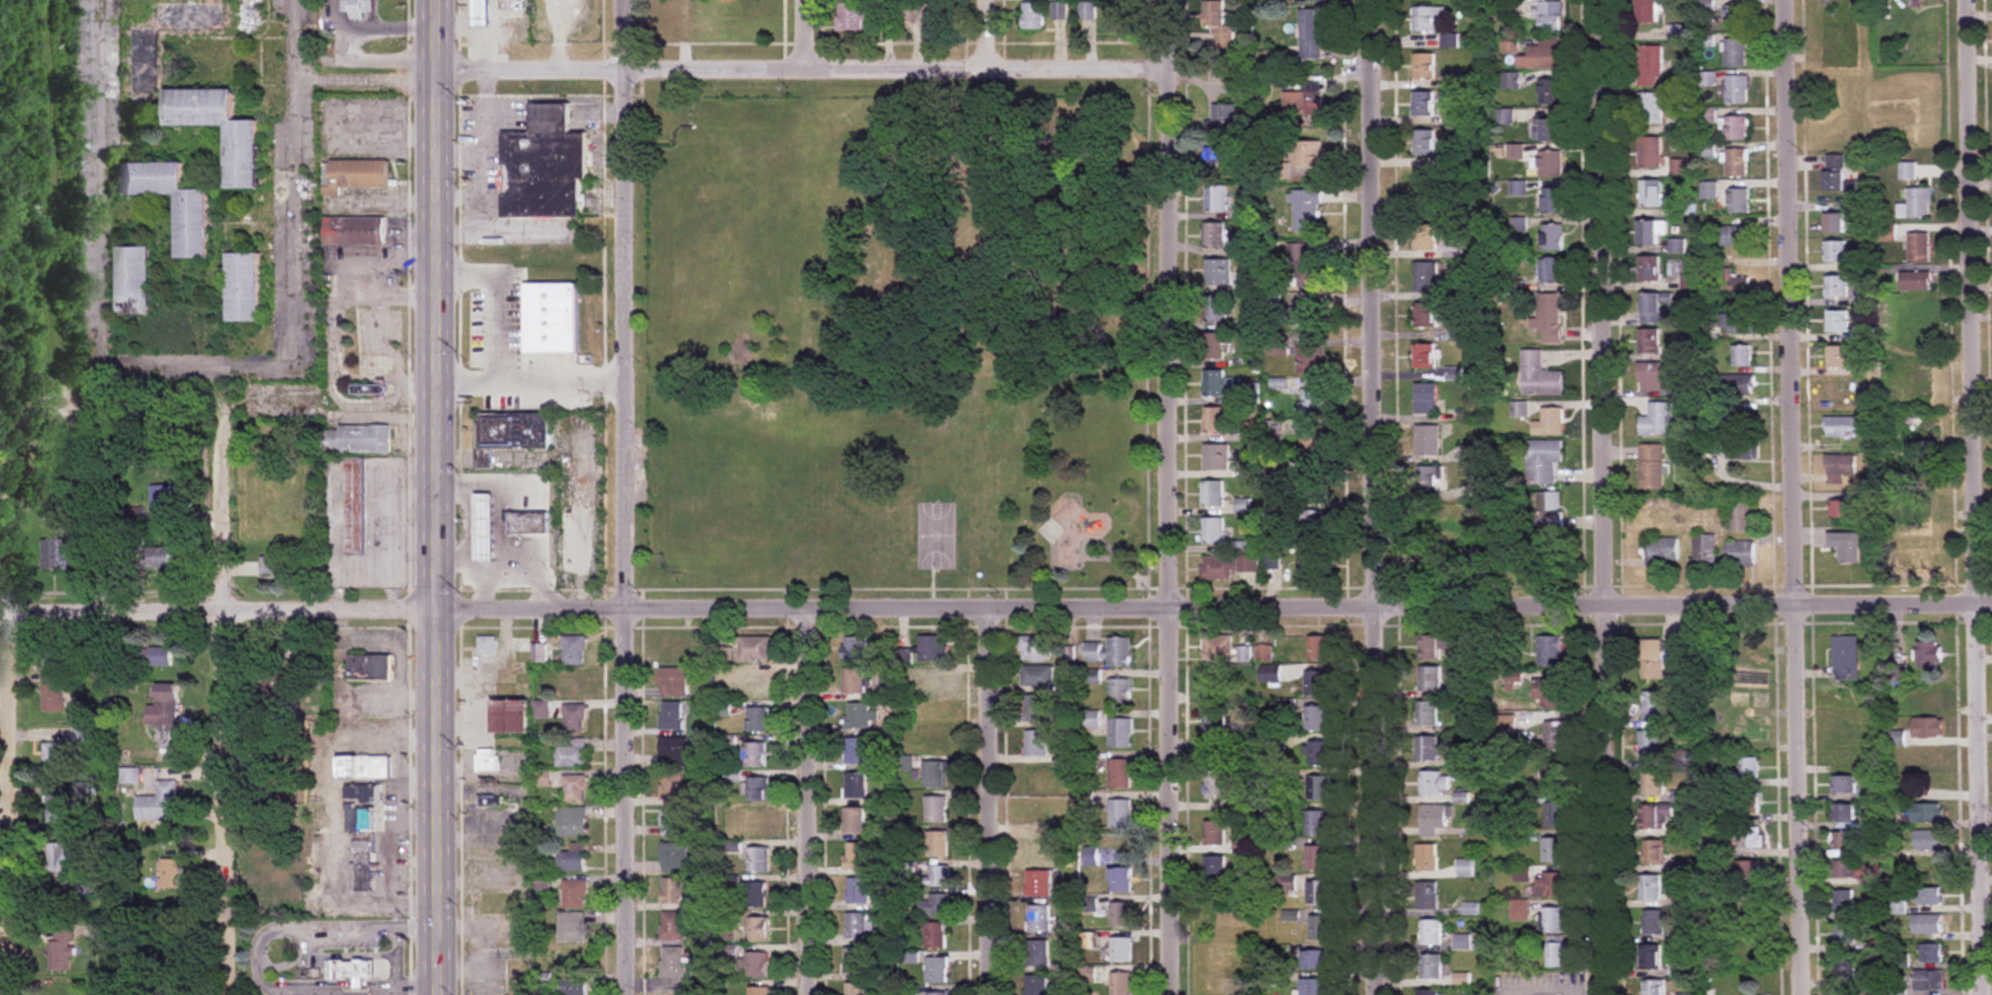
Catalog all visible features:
building: (1118, 0)
building: (1311, 1)
building: (512, 5)
building: (358, 8)
building: (1510, 8)
building: (1649, 11)
building: (1086, 12)
building: (480, 14)
building: (660, 14)
building: (247, 16)
building: (852, 17)
building: (1033, 17)
building: (1548, 17)
building: (934, 18)
building: (1735, 18)
building: (1428, 19)
building: (1118, 20)
building: (1217, 26)
road: (984, 34)
building: (1310, 34)
road: (802, 35)
building: (1449, 41)
building: (1831, 43)
building: (1510, 45)
building: (1735, 53)
building: (1542, 55)
building: (143, 66)
building: (1423, 66)
building: (1650, 67)
road: (365, 68)
road: (799, 70)
building: (1510, 81)
building: (1736, 90)
building: (1550, 93)
building: (1303, 104)
building: (1423, 104)
building: (1650, 109)
building: (1504, 117)
building: (1221, 121)
building: (1736, 129)
building: (1547, 131)
building: (1423, 143)
building: (1650, 153)
building: (1308, 155)
road: (460, 156)
building: (241, 158)
building: (1450, 158)
building: (1221, 162)
building: (1736, 163)
building: (1551, 165)
building: (543, 167)
building: (1907, 172)
building: (1834, 174)
building: (355, 175)
road: (486, 176)
building: (1518, 189)
building: (1651, 194)
building: (1216, 199)
road: (460, 200)
building: (1738, 201)
building: (1552, 202)
building: (1916, 205)
building: (1307, 211)
building: (1834, 224)
building: (192, 227)
building: (354, 232)
building: (1651, 232)
building: (1214, 236)
building: (1736, 236)
building: (1425, 238)
building: (1552, 238)
building: (1919, 248)
building: (1835, 252)
building: (1861, 261)
building: (1304, 267)
building: (1650, 269)
building: (1552, 270)
building: (1218, 272)
road: (355, 277)
building: (1427, 277)
building: (133, 281)
building: (1916, 282)
building: (1736, 284)
building: (1836, 287)
building: (243, 288)
building: (1657, 308)
building: (1215, 309)
building: (1426, 316)
building: (550, 318)
building: (1306, 318)
building: (1549, 318)
building: (1837, 322)
building: (1738, 323)
road: (499, 327)
park: (893, 339)
building: (1650, 341)
building: (1213, 346)
building: (1425, 356)
building: (1742, 356)
building: (1838, 357)
building: (1310, 360)
road: (198, 366)
building: (1540, 376)
building: (1653, 376)
road: (561, 382)
building: (1217, 384)
building: (1741, 385)
building: (369, 390)
building: (1839, 390)
building: (1252, 393)
building: (1427, 399)
building: (56, 400)
building: (1313, 402)
building: (1662, 419)
building: (1215, 421)
building: (1550, 423)
building: (1840, 427)
building: (513, 431)
building: (356, 440)
building: (1428, 441)
building: (1312, 442)
building: (56, 443)
building: (1742, 450)
building: (1922, 451)
building: (1217, 458)
building: (1544, 461)
building: (1651, 466)
building: (1840, 470)
building: (1428, 479)
building: (1313, 485)
building: (52, 494)
building: (1478, 494)
building: (1213, 495)
road: (435, 497)
road: (623, 497)
road: (1167, 497)
road: (1371, 497)
road: (1611, 497)
road: (1798, 497)
road: (1980, 497)
building: (160, 499)
building: (1922, 504)
building: (355, 507)
building: (1841, 510)
building: (1550, 512)
building: (1740, 518)
building: (529, 523)
building: (1312, 526)
building: (484, 528)
building: (1214, 531)
building: (1465, 535)
building: (1504, 546)
building: (1846, 547)
building: (1663, 549)
building: (1704, 549)
building: (1921, 553)
building: (54, 555)
building: (1739, 555)
building: (156, 557)
building: (89, 559)
road: (453, 561)
building: (1272, 561)
building: (1427, 561)
building: (1312, 562)
building: (1249, 563)
road: (470, 565)
building: (274, 566)
building: (1218, 567)
road: (482, 591)
road: (996, 607)
building: (487, 644)
building: (855, 647)
building: (932, 647)
building: (1217, 647)
building: (1318, 647)
building: (1429, 647)
building: (754, 648)
building: (1035, 648)
building: (574, 650)
building: (671, 650)
building: (1110, 651)
building: (1549, 651)
building: (1672, 654)
building: (1929, 654)
building: (58, 655)
building: (150, 656)
building: (1845, 658)
building: (1651, 659)
building: (370, 667)
building: (1268, 673)
building: (1744, 674)
building: (1038, 676)
building: (1429, 677)
building: (854, 679)
building: (1514, 679)
building: (939, 680)
building: (1214, 680)
building: (673, 683)
building: (1315, 683)
building: (275, 684)
building: (571, 684)
building: (755, 684)
road: (16, 689)
building: (52, 692)
building: (1120, 692)
building: (1549, 692)
road: (223, 695)
building: (1925, 698)
building: (1286, 706)
building: (1653, 706)
building: (541, 709)
building: (1038, 709)
building: (164, 711)
building: (1426, 713)
building: (511, 715)
building: (860, 716)
building: (671, 717)
building: (574, 718)
building: (1315, 718)
building: (757, 719)
building: (1928, 727)
building: (1847, 729)
building: (1746, 732)
building: (1120, 733)
building: (1214, 733)
building: (81, 736)
building: (1557, 736)
building: (935, 738)
building: (1896, 738)
building: (1041, 743)
building: (1650, 745)
building: (1428, 749)
building: (856, 750)
building: (674, 752)
building: (1317, 753)
building: (572, 755)
building: (755, 755)
building: (54, 757)
building: (487, 760)
building: (364, 767)
building: (1747, 768)
building: (934, 773)
building: (1119, 773)
building: (130, 775)
building: (1552, 778)
building: (1038, 779)
building: (1653, 782)
building: (1217, 783)
building: (1433, 783)
building: (855, 785)
building: (1843, 785)
building: (673, 787)
building: (1319, 788)
building: (575, 789)
building: (757, 789)
building: (490, 801)
road: (808, 801)
road: (989, 801)
building: (1748, 802)
building: (159, 804)
building: (361, 806)
building: (56, 809)
building: (935, 809)
building: (1927, 812)
building: (1036, 813)
building: (1844, 813)
building: (1120, 814)
building: (1554, 814)
building: (1654, 817)
building: (1433, 819)
building: (854, 820)
building: (572, 822)
building: (674, 823)
building: (1315, 823)
building: (754, 824)
building: (1214, 832)
building: (1748, 837)
building: (1930, 839)
building: (1843, 840)
building: (936, 844)
building: (1035, 848)
building: (1552, 849)
building: (1653, 853)
building: (856, 855)
building: (57, 857)
road: (386, 857)
building: (674, 857)
building: (1426, 857)
building: (573, 858)
building: (1315, 858)
building: (758, 859)
building: (275, 862)
building: (364, 865)
building: (1215, 867)
building: (1465, 867)
building: (1746, 868)
building: (1842, 868)
building: (169, 873)
building: (1522, 873)
building: (939, 876)
building: (1120, 880)
building: (1038, 883)
building: (1551, 884)
building: (1650, 887)
building: (672, 890)
building: (857, 890)
building: (574, 893)
building: (755, 893)
building: (1318, 893)
building: (1426, 895)
building: (1929, 895)
building: (1843, 900)
building: (937, 905)
building: (1520, 910)
building: (1120, 914)
building: (1037, 918)
building: (1551, 919)
building: (1654, 923)
building: (1927, 923)
building: (1747, 925)
building: (672, 926)
building: (858, 926)
building: (572, 927)
building: (1318, 927)
road: (279, 928)
building: (758, 929)
building: (1430, 932)
building: (1844, 933)
building: (934, 935)
building: (1460, 941)
building: (60, 949)
building: (1120, 949)
building: (1931, 953)
building: (1036, 954)
building: (1211, 955)
building: (1556, 955)
building: (1649, 957)
building: (1314, 960)
building: (855, 961)
building: (755, 964)
building: (1430, 966)
building: (675, 967)
building: (353, 968)
building: (1844, 968)
building: (935, 970)
building: (1929, 980)
building: (1216, 982)
building: (1120, 983)
road: (359, 985)
road: (400, 985)
building: (1036, 985)
building: (571, 987)
building: (1313, 987)
building: (1653, 988)
building: (855, 989)
building: (758, 990)
building: (1426, 992)
building: (937, 993)

